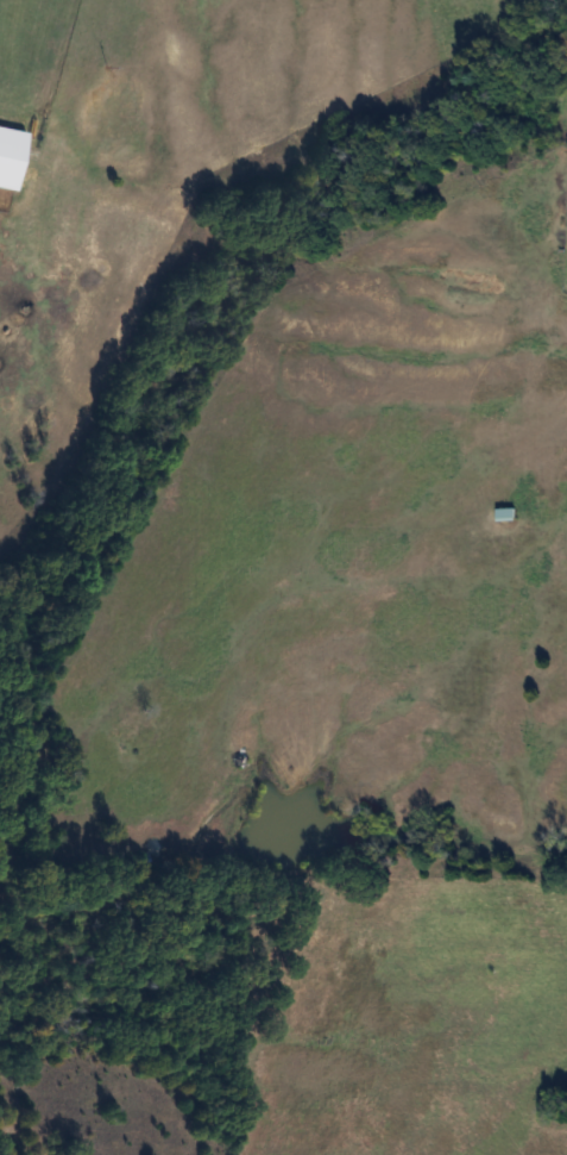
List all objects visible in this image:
building: (505, 513)

